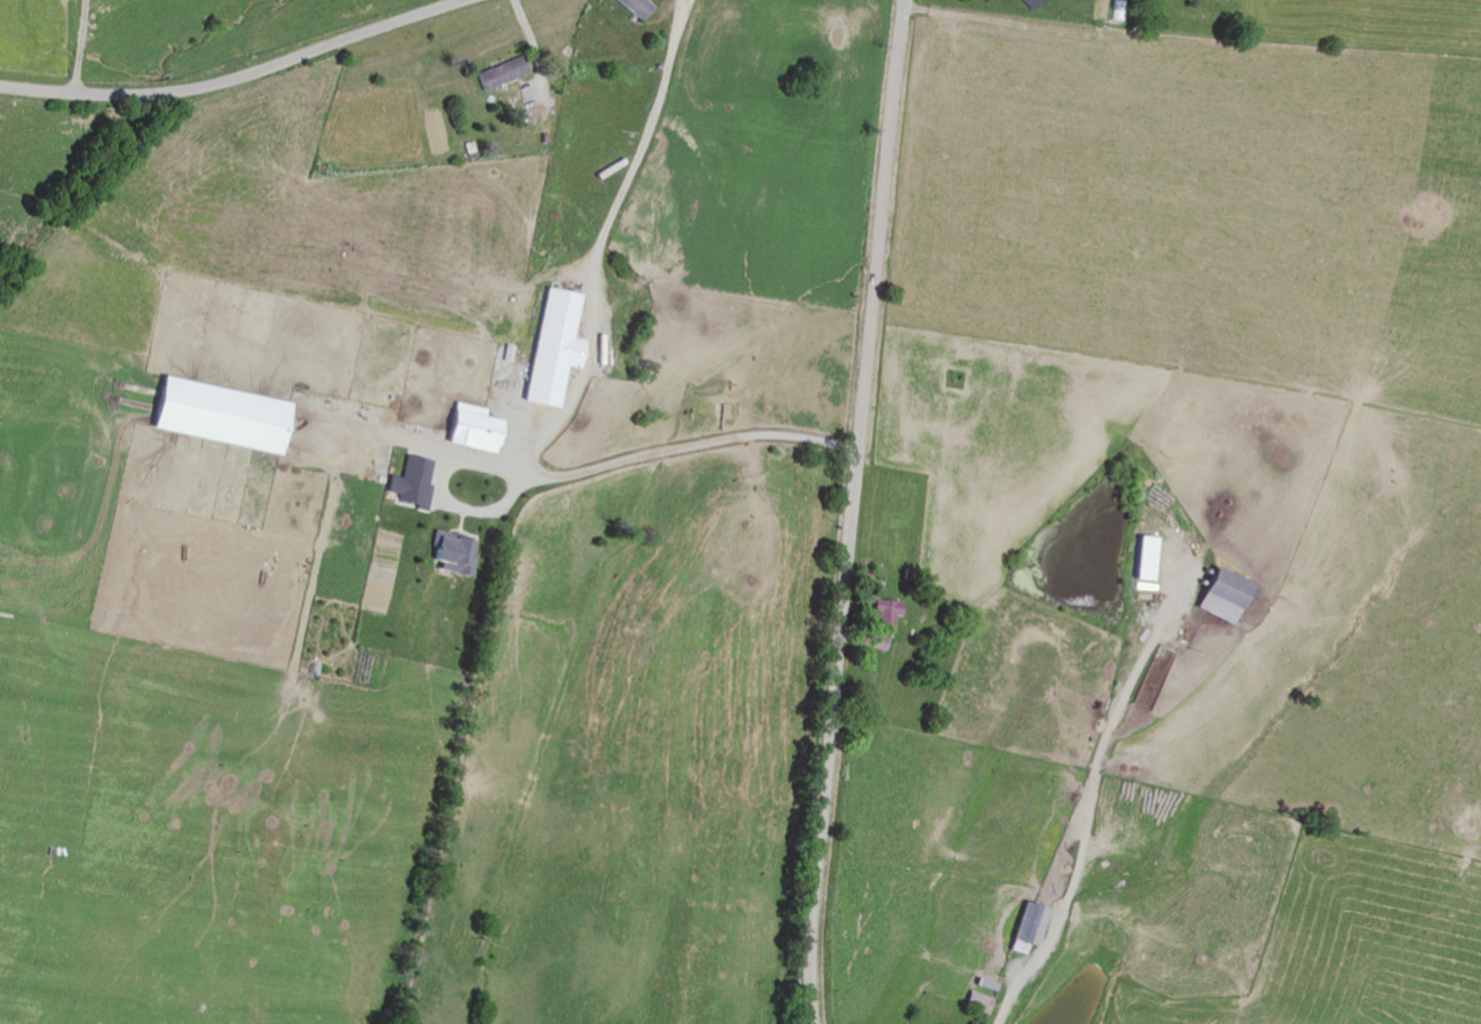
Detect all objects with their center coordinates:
building: (1030, 3)
building: (635, 7)
building: (503, 73)
road: (240, 78)
road: (852, 511)
building: (1223, 587)
building: (885, 616)
building: (1154, 680)
building: (1028, 926)
building: (985, 985)
building: (978, 1002)

